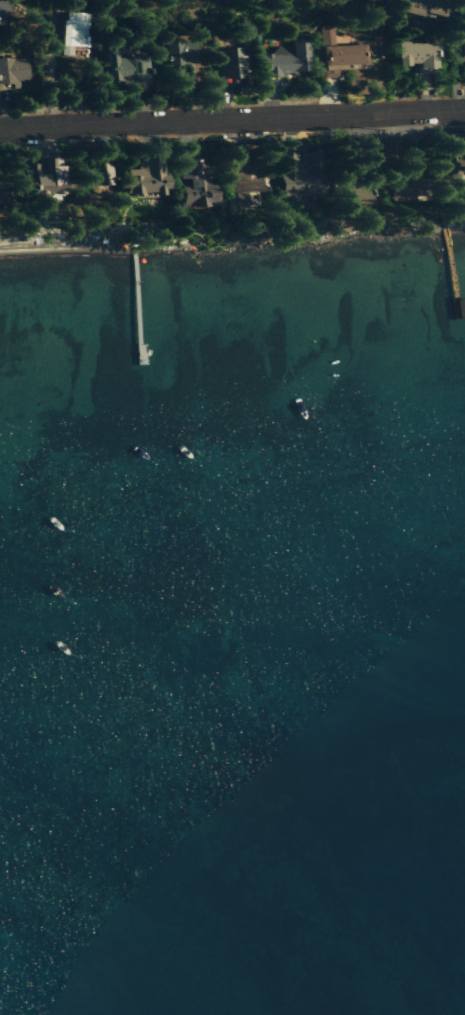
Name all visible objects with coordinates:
building: (426, 7)
building: (3, 11)
building: (75, 32)
building: (463, 45)
building: (180, 52)
building: (339, 55)
building: (420, 57)
building: (287, 61)
building: (233, 65)
building: (126, 68)
building: (13, 72)
road: (232, 120)
building: (393, 150)
building: (455, 154)
building: (100, 174)
building: (302, 174)
building: (47, 176)
building: (148, 177)
building: (247, 185)
building: (197, 186)
building: (4, 194)
pier: (447, 274)
pier: (133, 303)

